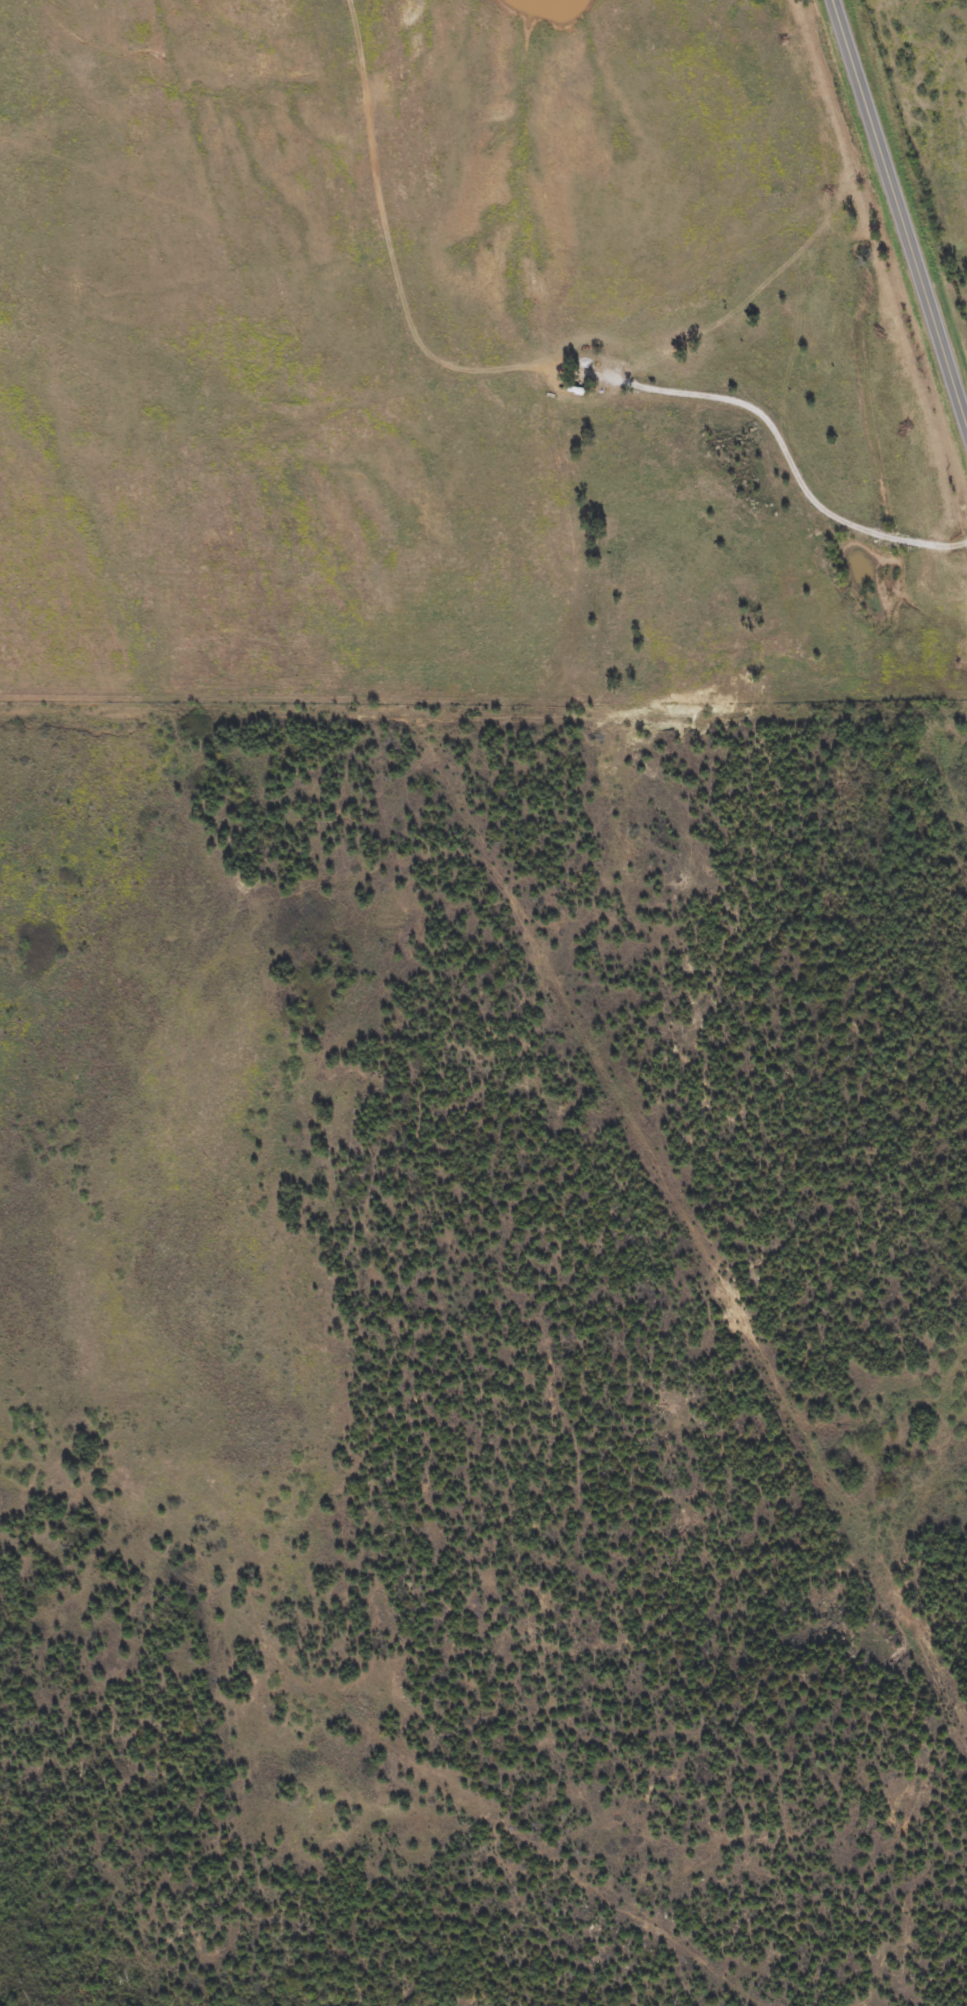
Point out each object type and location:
road: (898, 208)

